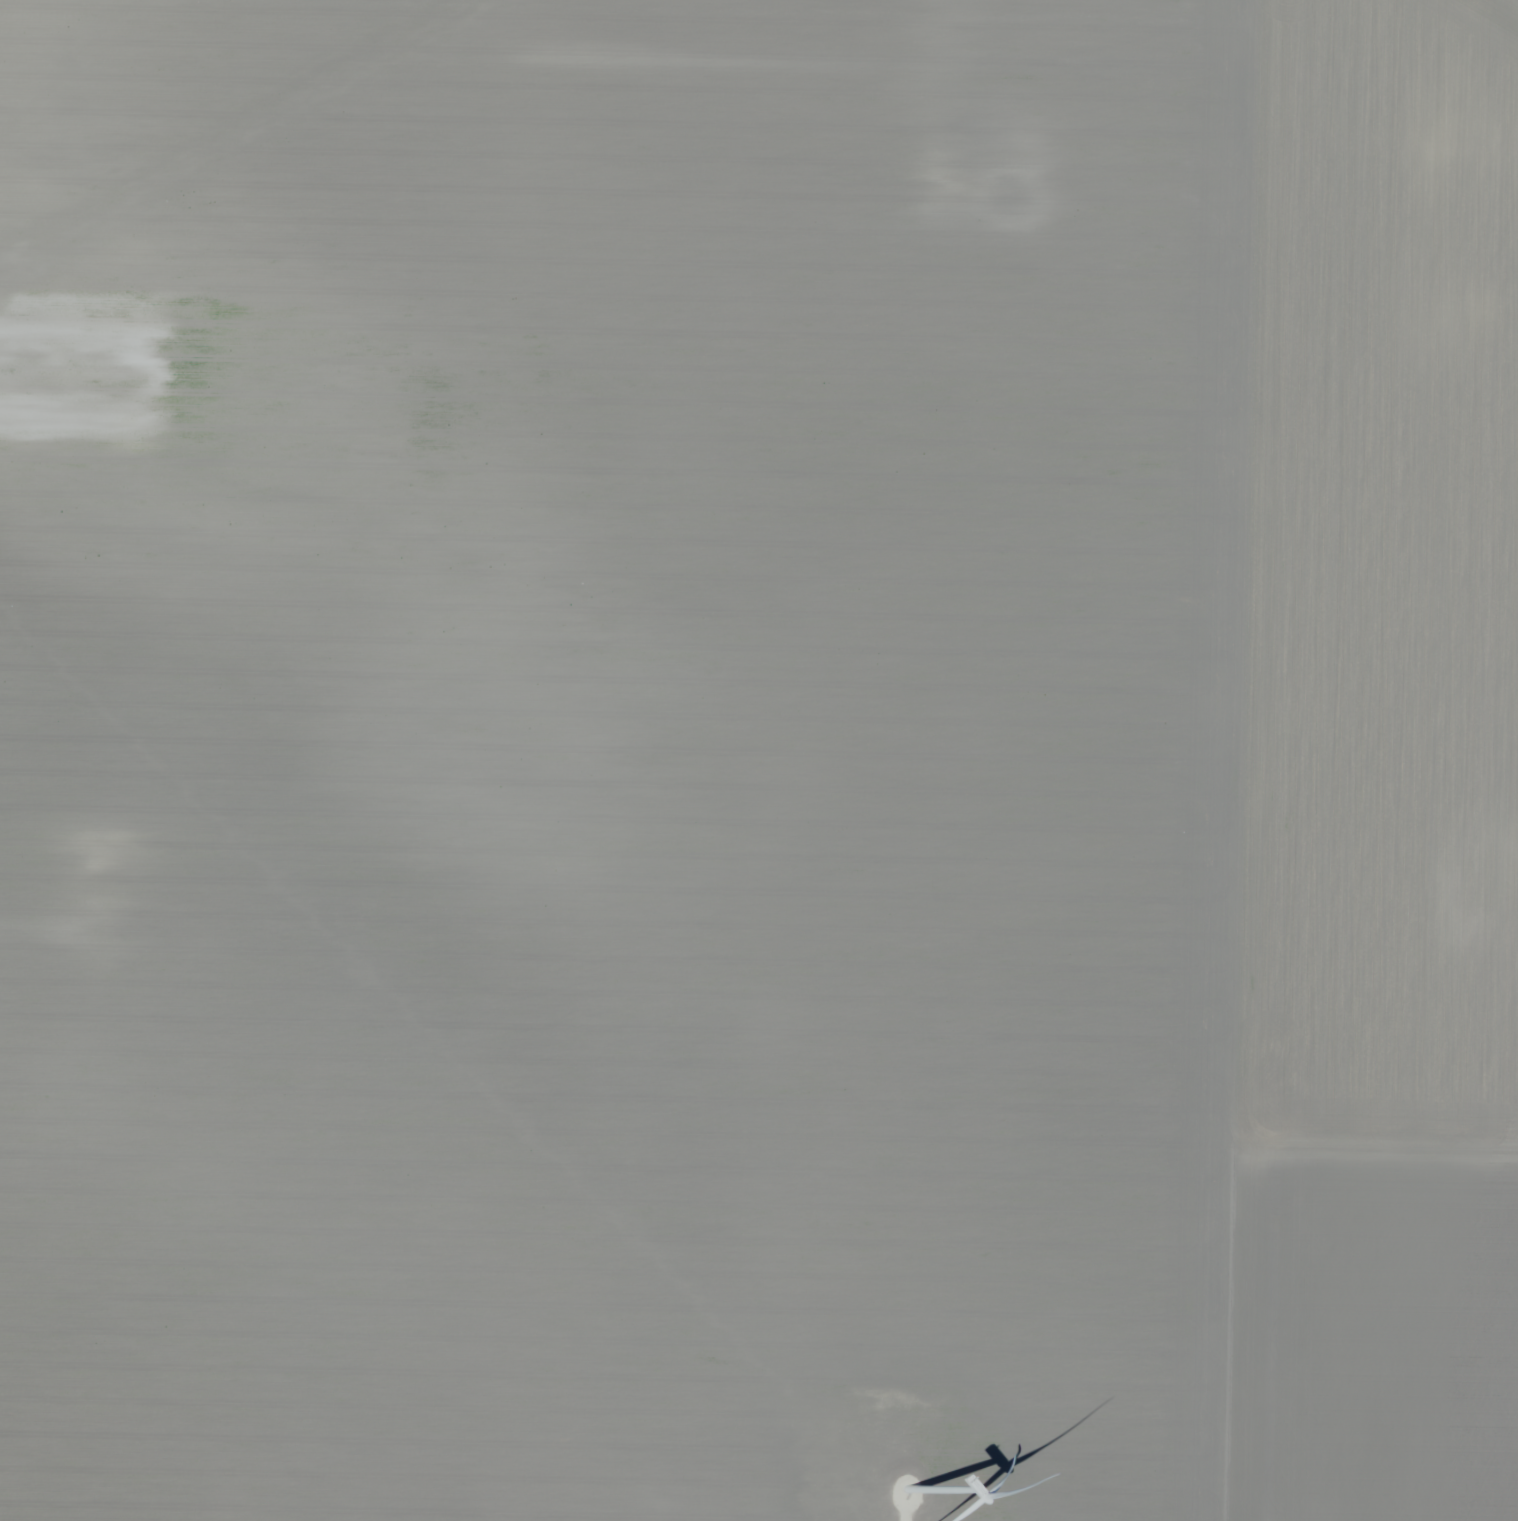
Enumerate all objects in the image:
wind turbine: (912, 1487)

